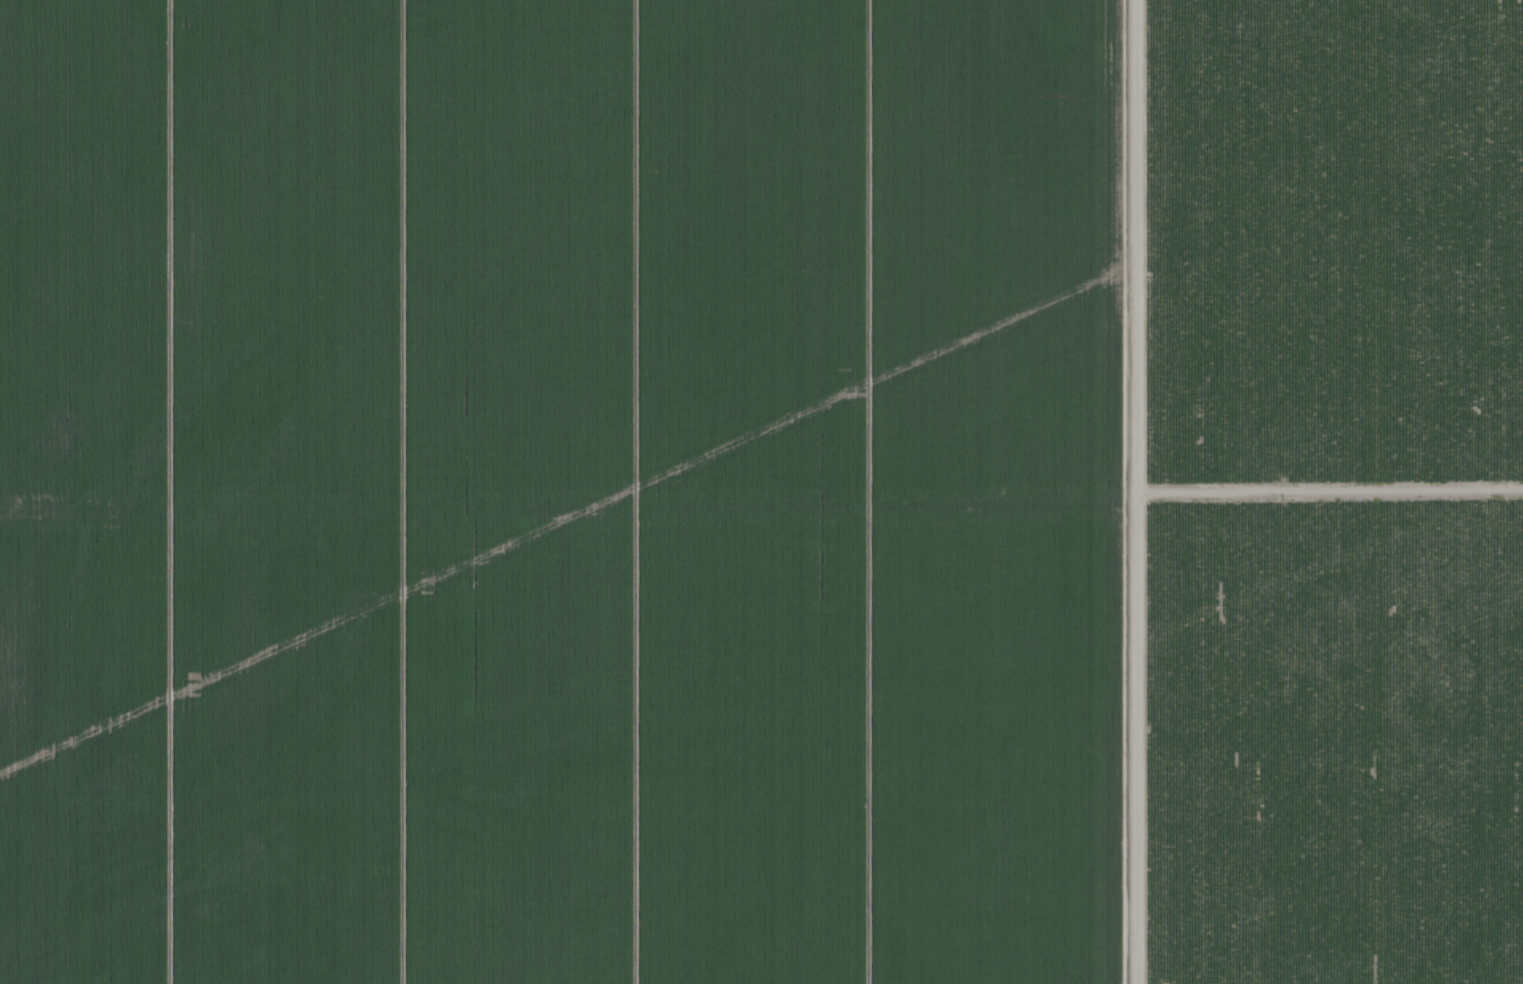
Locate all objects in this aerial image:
road: (1136, 492)

